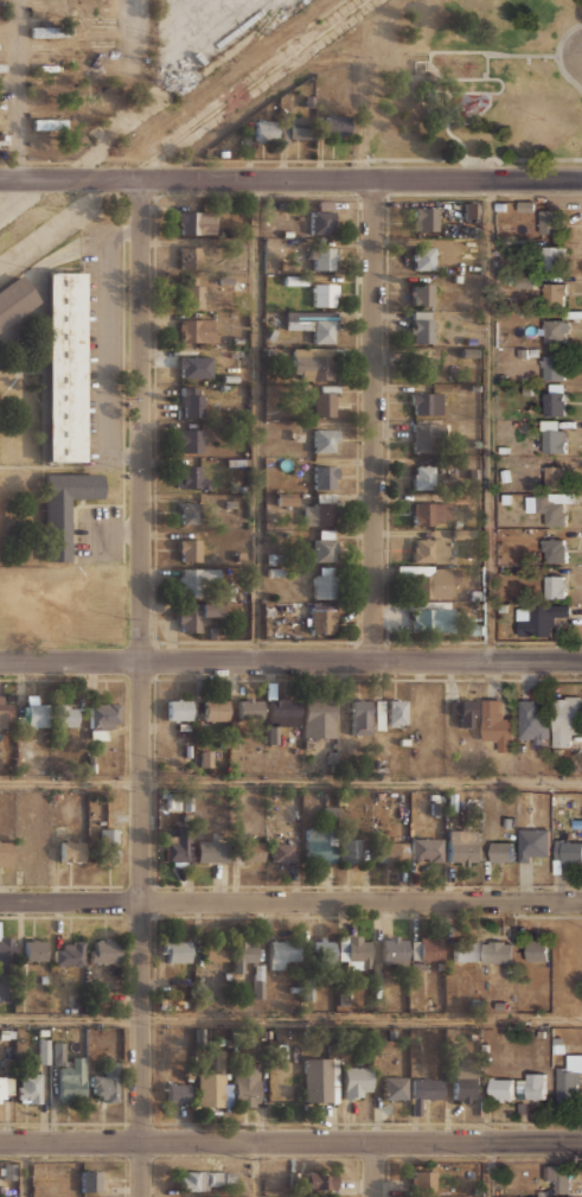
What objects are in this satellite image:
building: (49, 31)
building: (101, 45)
road: (556, 56)
building: (46, 66)
building: (2, 68)
road: (487, 78)
road: (251, 79)
park: (474, 84)
building: (102, 88)
road: (18, 90)
road: (142, 90)
building: (308, 101)
building: (50, 123)
building: (337, 126)
building: (300, 127)
building: (266, 130)
road: (456, 138)
building: (4, 139)
road: (475, 159)
road: (290, 179)
building: (281, 204)
building: (526, 205)
building: (471, 210)
building: (426, 218)
building: (197, 222)
building: (322, 222)
building: (552, 222)
building: (190, 255)
building: (555, 256)
building: (325, 257)
building: (423, 257)
building: (284, 267)
building: (225, 280)
building: (295, 280)
building: (525, 281)
building: (239, 285)
building: (192, 292)
building: (325, 293)
building: (422, 293)
building: (556, 293)
building: (14, 300)
building: (314, 324)
building: (422, 326)
building: (0, 330)
building: (196, 330)
building: (555, 330)
building: (271, 333)
building: (236, 340)
building: (469, 342)
building: (469, 351)
building: (523, 352)
building: (533, 352)
building: (313, 363)
building: (65, 367)
building: (196, 367)
building: (423, 367)
building: (554, 367)
building: (223, 387)
building: (477, 387)
building: (307, 388)
building: (527, 390)
building: (555, 400)
building: (192, 401)
building: (426, 402)
building: (325, 403)
road: (373, 419)
road: (257, 420)
road: (491, 420)
building: (517, 424)
building: (296, 435)
building: (428, 435)
building: (554, 438)
building: (191, 440)
building: (326, 440)
building: (478, 442)
building: (236, 461)
building: (556, 473)
building: (505, 475)
building: (325, 476)
building: (423, 476)
building: (191, 478)
building: (286, 498)
building: (505, 498)
building: (230, 505)
building: (549, 508)
building: (65, 509)
building: (320, 514)
building: (431, 514)
building: (190, 515)
building: (325, 546)
building: (191, 549)
building: (430, 549)
building: (555, 549)
building: (271, 559)
building: (275, 571)
building: (193, 580)
building: (430, 580)
building: (324, 581)
building: (555, 585)
building: (194, 615)
building: (542, 619)
building: (322, 620)
building: (433, 620)
road: (290, 660)
road: (141, 688)
building: (180, 708)
building: (249, 708)
building: (216, 709)
building: (465, 709)
building: (396, 712)
building: (37, 714)
building: (66, 714)
building: (378, 714)
building: (6, 715)
building: (281, 715)
building: (362, 717)
building: (320, 718)
building: (102, 719)
building: (565, 719)
building: (532, 720)
building: (498, 725)
building: (205, 758)
road: (290, 783)
building: (171, 800)
building: (331, 804)
building: (533, 842)
building: (109, 845)
building: (179, 845)
building: (462, 845)
building: (318, 847)
building: (428, 848)
building: (353, 849)
building: (72, 851)
building: (211, 851)
building: (503, 851)
building: (249, 852)
building: (281, 852)
building: (392, 852)
building: (568, 852)
building: (6, 853)
road: (290, 902)
building: (430, 948)
building: (34, 949)
building: (358, 949)
building: (394, 949)
building: (465, 949)
building: (104, 950)
building: (178, 950)
building: (537, 950)
building: (216, 951)
building: (324, 951)
building: (499, 951)
building: (283, 953)
building: (69, 954)
building: (244, 954)
building: (6, 966)
building: (101, 1002)
road: (290, 1020)
building: (44, 1051)
building: (58, 1053)
building: (320, 1078)
building: (72, 1081)
building: (570, 1081)
building: (105, 1082)
building: (356, 1082)
building: (247, 1085)
building: (531, 1085)
building: (395, 1087)
building: (30, 1088)
building: (466, 1088)
building: (2, 1089)
building: (212, 1089)
building: (501, 1089)
building: (424, 1091)
building: (178, 1093)
road: (290, 1142)
road: (26, 1170)
road: (256, 1170)
road: (375, 1170)
road: (490, 1170)
building: (558, 1177)
building: (321, 1179)
building: (423, 1179)
building: (91, 1180)
building: (206, 1180)
building: (539, 1196)
building: (563, 1196)

